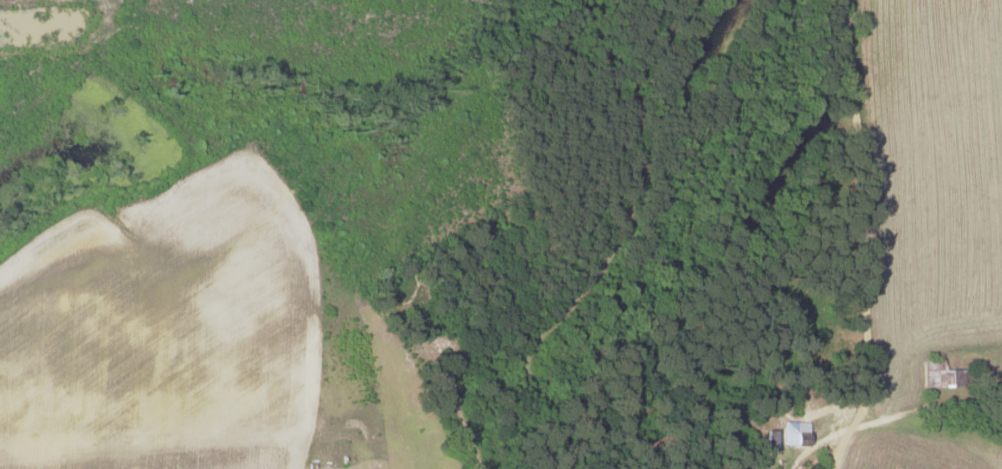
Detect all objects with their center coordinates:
road: (858, 213)
road: (923, 407)
building: (791, 431)
road: (838, 445)

